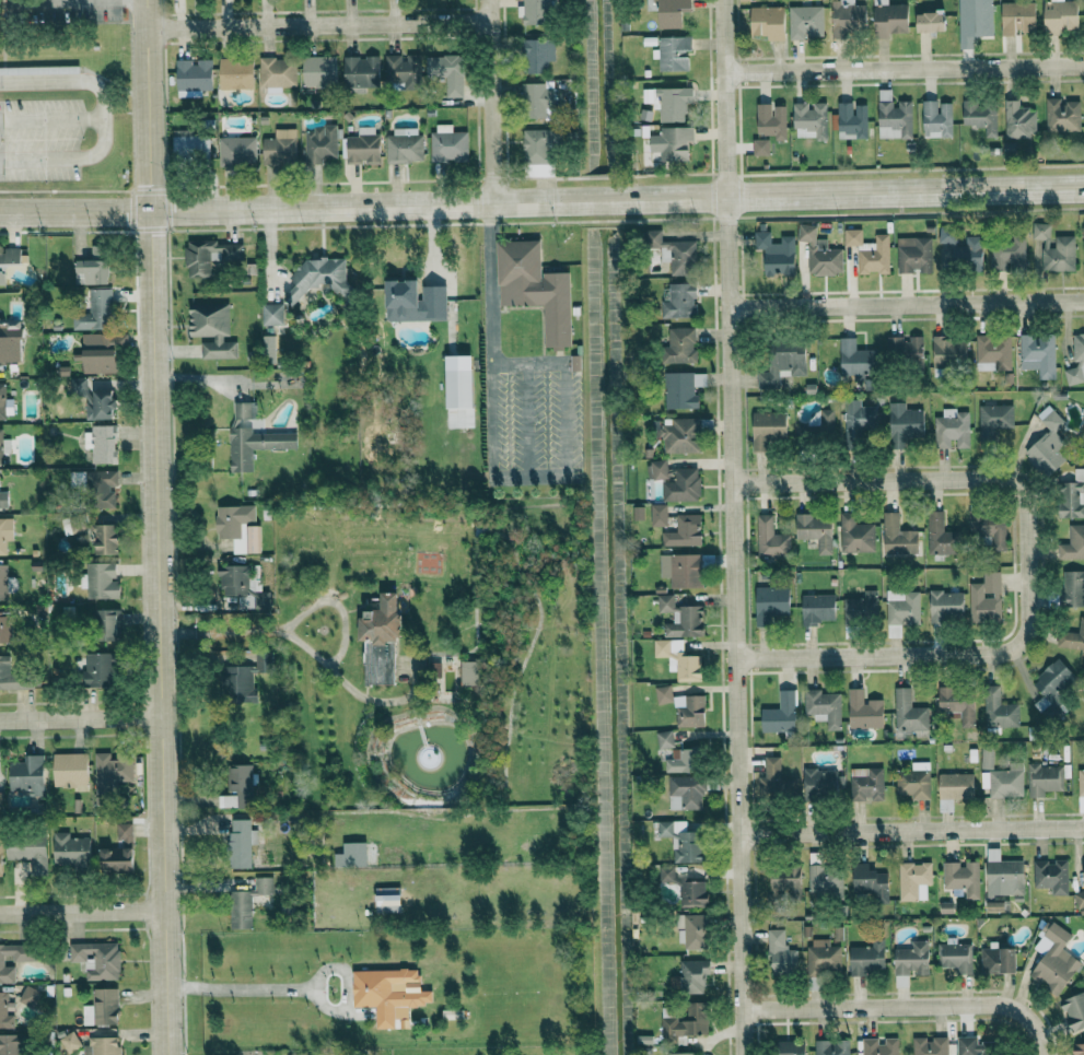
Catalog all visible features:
road: (35, 1)
building: (536, 12)
building: (671, 13)
building: (1060, 16)
building: (848, 17)
building: (1017, 17)
building: (889, 19)
building: (974, 21)
building: (805, 22)
building: (931, 22)
road: (318, 23)
building: (768, 23)
building: (672, 54)
building: (537, 56)
road: (904, 66)
building: (401, 68)
building: (318, 71)
building: (361, 72)
building: (277, 73)
building: (446, 73)
building: (235, 74)
building: (193, 78)
road: (488, 101)
building: (536, 101)
building: (668, 102)
road: (47, 116)
building: (894, 116)
building: (1062, 116)
building: (980, 117)
road: (102, 118)
building: (936, 119)
building: (771, 120)
building: (850, 121)
building: (1018, 121)
building: (675, 143)
building: (319, 144)
building: (447, 144)
building: (403, 145)
building: (540, 145)
building: (362, 146)
building: (760, 146)
building: (189, 148)
building: (280, 148)
building: (236, 152)
building: (539, 169)
road: (541, 200)
building: (1083, 232)
building: (1054, 249)
building: (959, 251)
building: (869, 253)
building: (673, 254)
building: (776, 254)
building: (819, 254)
building: (1007, 254)
building: (913, 255)
building: (9, 256)
building: (210, 256)
building: (93, 267)
building: (316, 278)
building: (1, 279)
road: (490, 283)
building: (534, 289)
building: (413, 302)
building: (679, 302)
road: (906, 304)
building: (95, 312)
building: (271, 315)
building: (211, 330)
building: (103, 340)
building: (10, 342)
building: (679, 347)
building: (905, 351)
building: (948, 352)
building: (992, 352)
building: (1038, 355)
building: (854, 360)
building: (1076, 361)
building: (98, 362)
road: (527, 364)
building: (781, 365)
building: (458, 383)
building: (679, 391)
building: (5, 405)
building: (856, 419)
road: (564, 420)
building: (993, 420)
road: (490, 422)
building: (904, 423)
building: (820, 426)
building: (767, 430)
building: (951, 430)
building: (680, 436)
building: (252, 437)
building: (101, 444)
building: (1048, 444)
building: (3, 446)
road: (527, 478)
road: (916, 479)
building: (676, 482)
building: (102, 487)
building: (1071, 496)
building: (3, 500)
building: (658, 515)
road: (160, 527)
building: (237, 527)
road: (732, 527)
building: (989, 527)
building: (815, 530)
building: (684, 531)
building: (4, 532)
building: (855, 534)
building: (939, 534)
building: (897, 536)
building: (104, 538)
building: (770, 538)
building: (1073, 543)
building: (681, 570)
building: (101, 581)
building: (2, 582)
building: (242, 587)
building: (1072, 588)
building: (986, 598)
building: (770, 603)
building: (946, 606)
building: (902, 607)
building: (817, 608)
building: (860, 608)
building: (679, 617)
building: (105, 624)
building: (1, 625)
building: (1072, 637)
building: (378, 641)
road: (308, 649)
road: (920, 654)
building: (678, 658)
building: (98, 669)
building: (241, 676)
building: (13, 677)
building: (434, 677)
building: (1052, 688)
building: (663, 694)
building: (957, 704)
building: (823, 707)
building: (999, 710)
building: (863, 711)
building: (690, 712)
building: (908, 712)
building: (780, 714)
road: (82, 718)
building: (664, 739)
building: (987, 757)
building: (681, 761)
building: (69, 770)
building: (112, 770)
building: (26, 775)
building: (238, 777)
building: (1044, 778)
building: (774, 779)
building: (819, 781)
building: (913, 781)
building: (1003, 781)
building: (865, 784)
building: (955, 786)
building: (685, 793)
building: (0, 795)
road: (910, 831)
building: (680, 840)
building: (238, 843)
building: (69, 848)
building: (27, 851)
building: (118, 852)
building: (350, 855)
building: (0, 857)
building: (666, 874)
building: (1050, 876)
building: (961, 878)
building: (1004, 878)
building: (785, 880)
building: (913, 880)
building: (824, 881)
building: (870, 882)
building: (692, 893)
building: (1080, 895)
building: (386, 900)
building: (246, 902)
building: (994, 906)
road: (83, 916)
building: (692, 931)
building: (780, 952)
building: (954, 956)
building: (823, 957)
building: (14, 958)
building: (867, 958)
building: (911, 959)
building: (1053, 959)
building: (96, 960)
building: (998, 960)
building: (693, 975)
road: (243, 988)
road: (346, 988)
building: (386, 993)
building: (28, 995)
road: (905, 1006)
building: (101, 1008)
building: (1074, 1011)
building: (4, 1012)
building: (683, 1021)
building: (68, 1042)
building: (11, 1044)
building: (101, 1046)
building: (879, 1046)
building: (929, 1046)
building: (977, 1046)
building: (788, 1047)
building: (831, 1047)
building: (1077, 1048)
building: (681, 1053)

